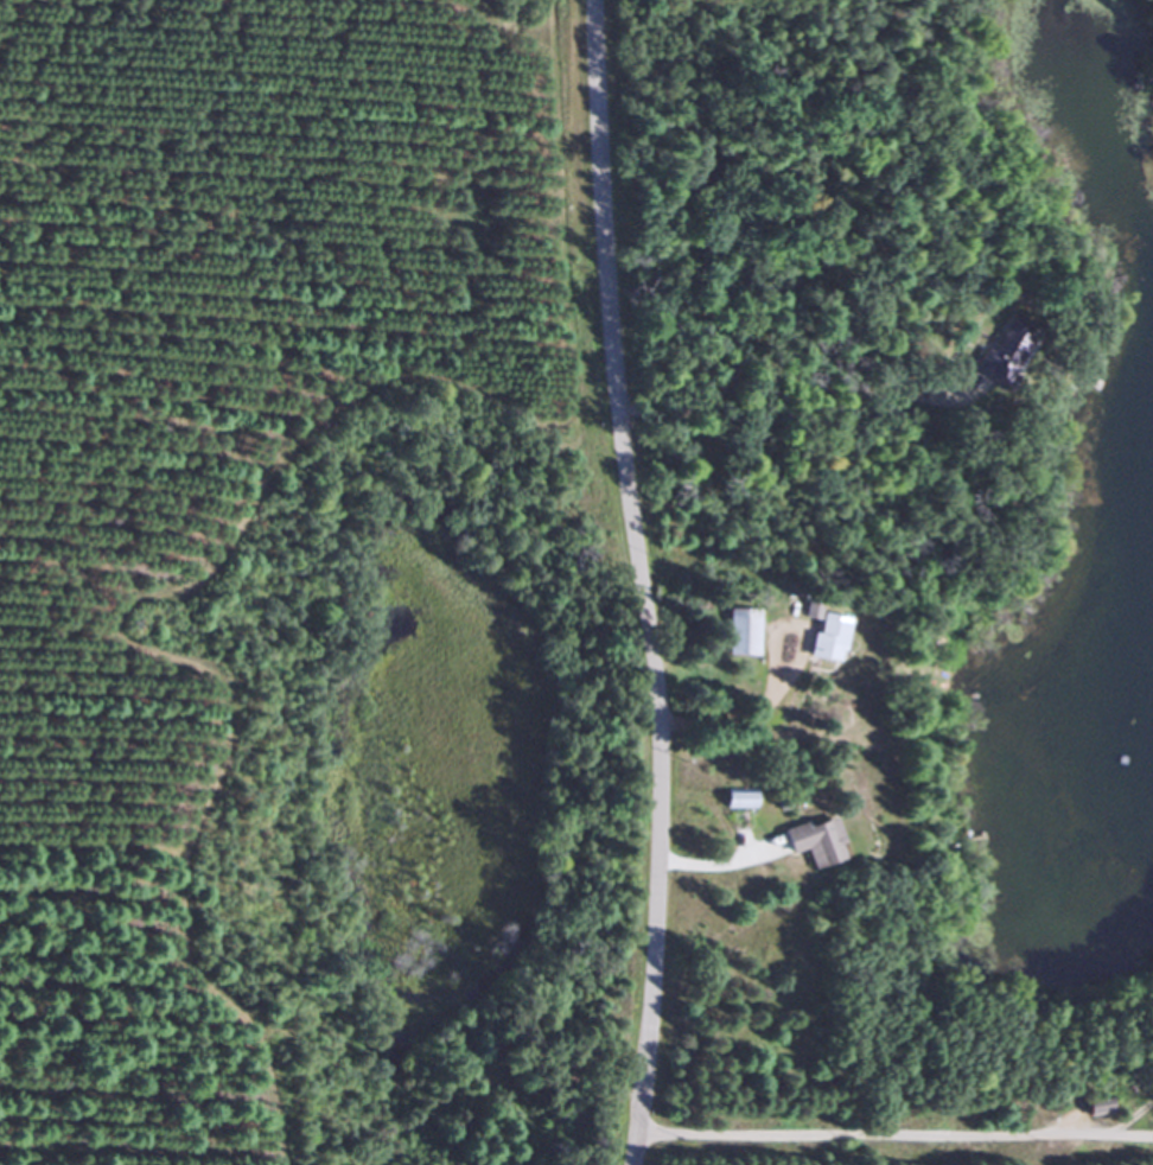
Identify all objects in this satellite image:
building: (1004, 349)
road: (785, 377)
road: (638, 581)
building: (739, 631)
building: (817, 638)
road: (770, 682)
building: (733, 798)
building: (808, 841)
road: (720, 866)
building: (1089, 1107)
road: (893, 1133)

